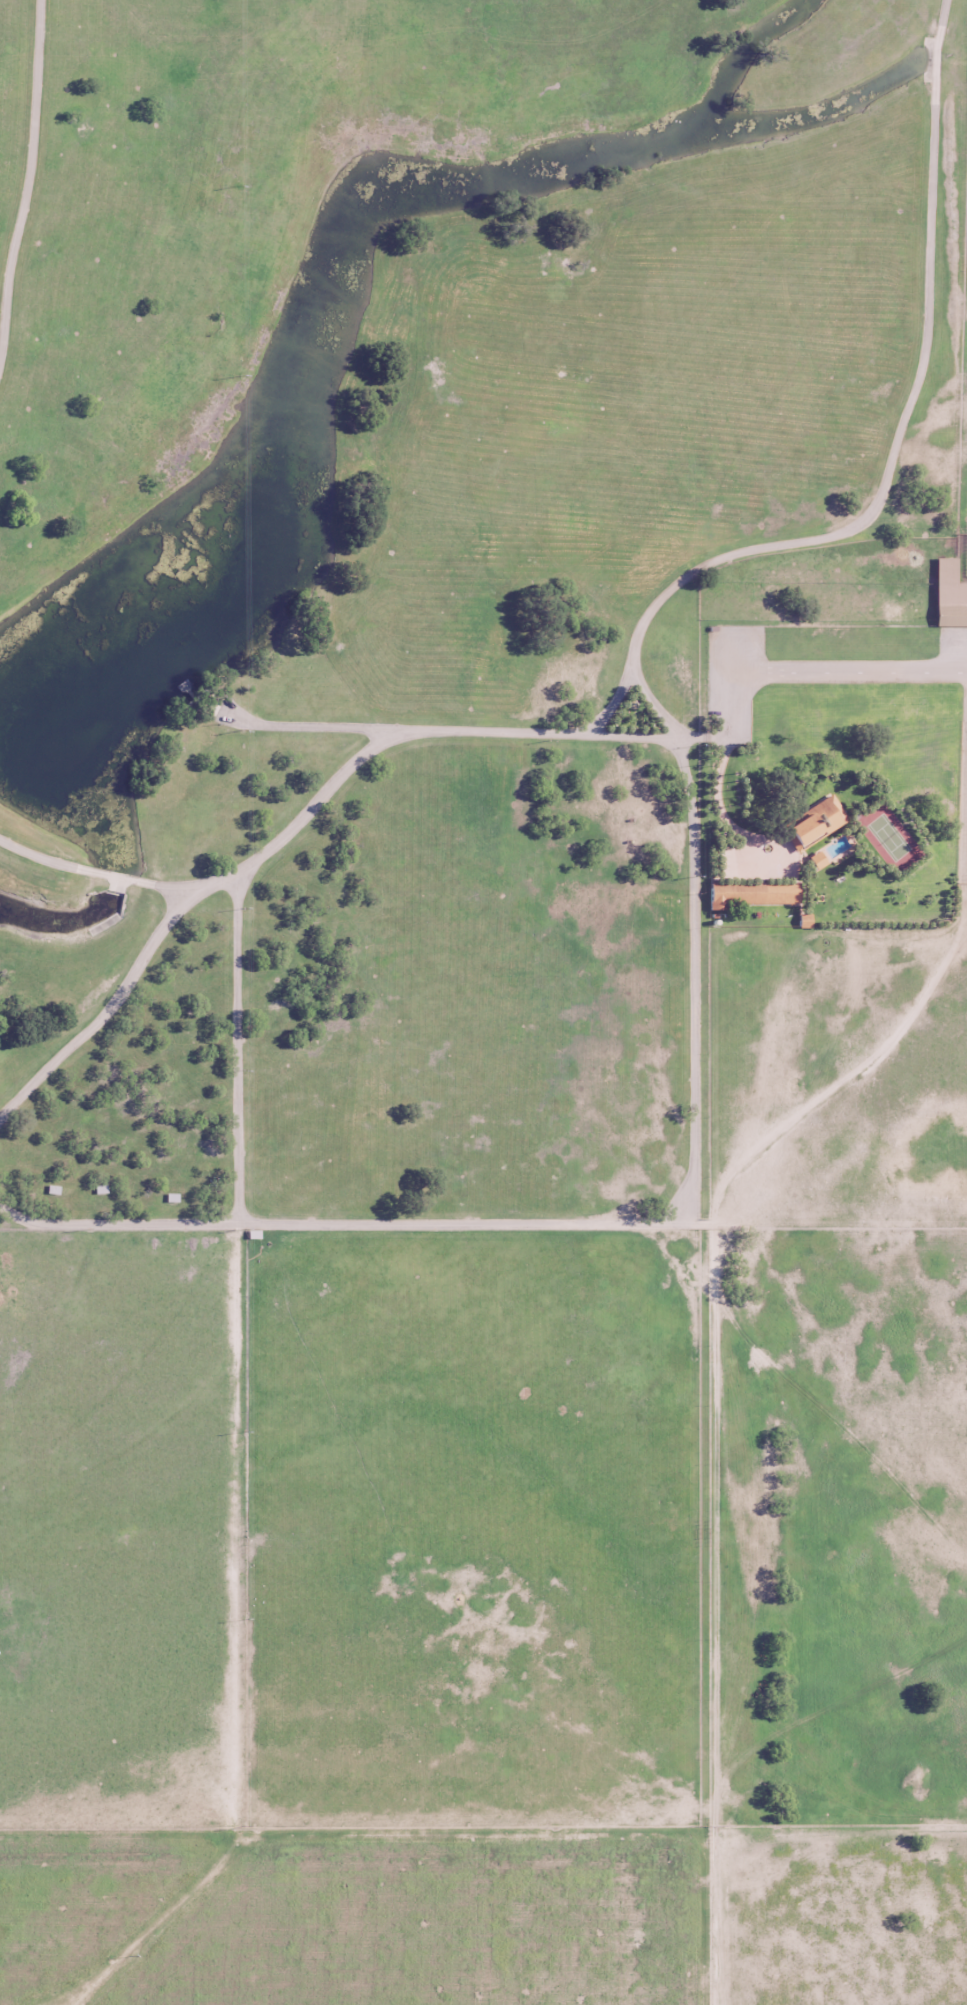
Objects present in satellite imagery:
road: (907, 413)
building: (949, 594)
airport runway: (848, 672)
road: (848, 672)
road: (656, 703)
road: (612, 706)
road: (333, 785)
road: (718, 807)
building: (814, 822)
park: (889, 835)
road: (52, 859)
building: (816, 860)
road: (119, 877)
road: (166, 886)
building: (752, 892)
building: (804, 920)
road: (694, 974)

